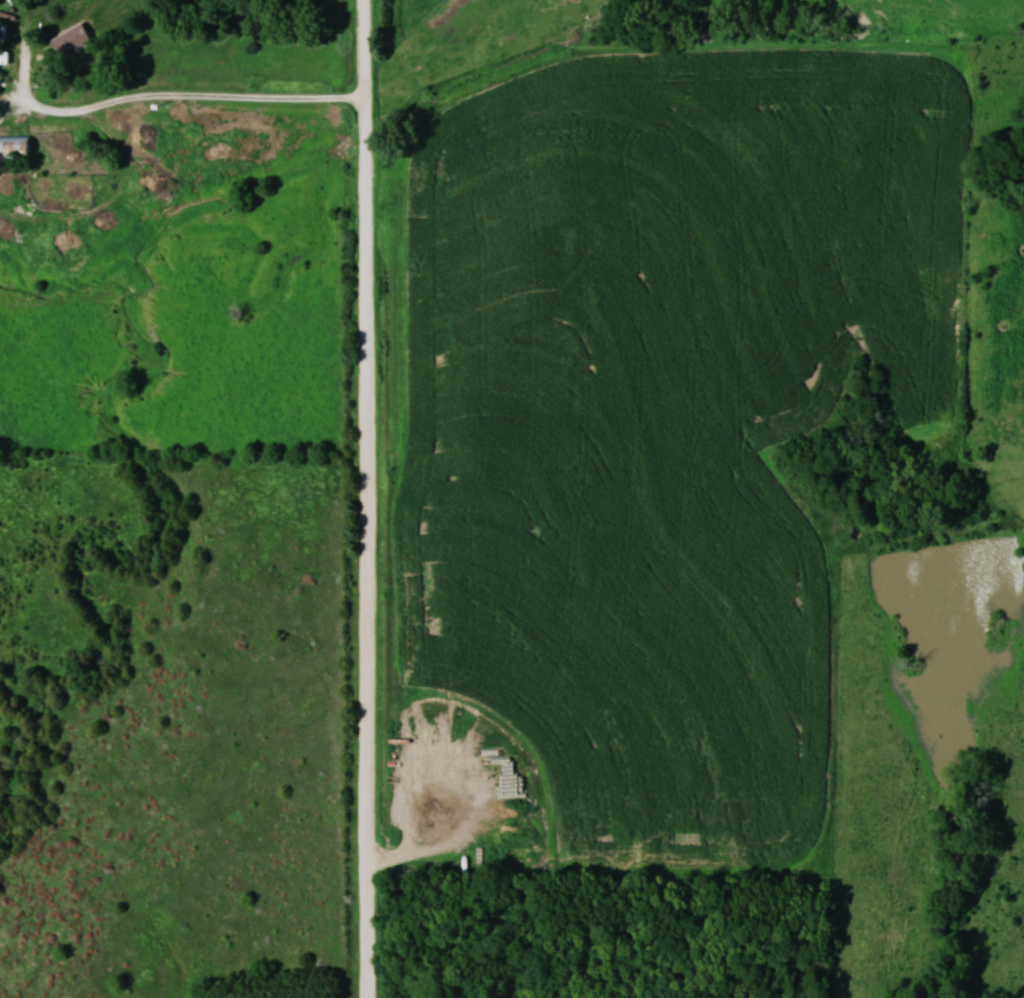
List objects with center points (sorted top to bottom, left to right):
building: (72, 40)
building: (4, 57)
road: (137, 97)
building: (15, 147)
road: (368, 498)

